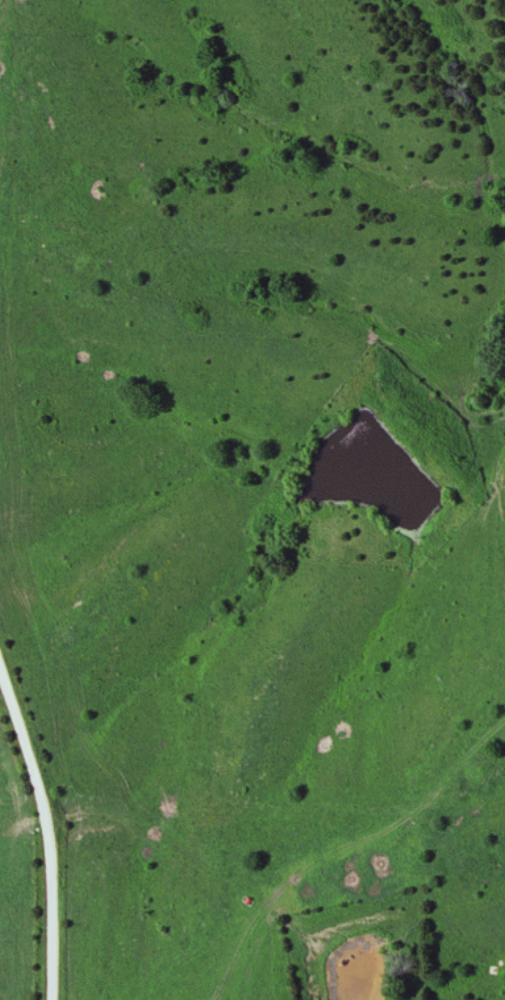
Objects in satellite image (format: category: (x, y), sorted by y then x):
road: (42, 847)

